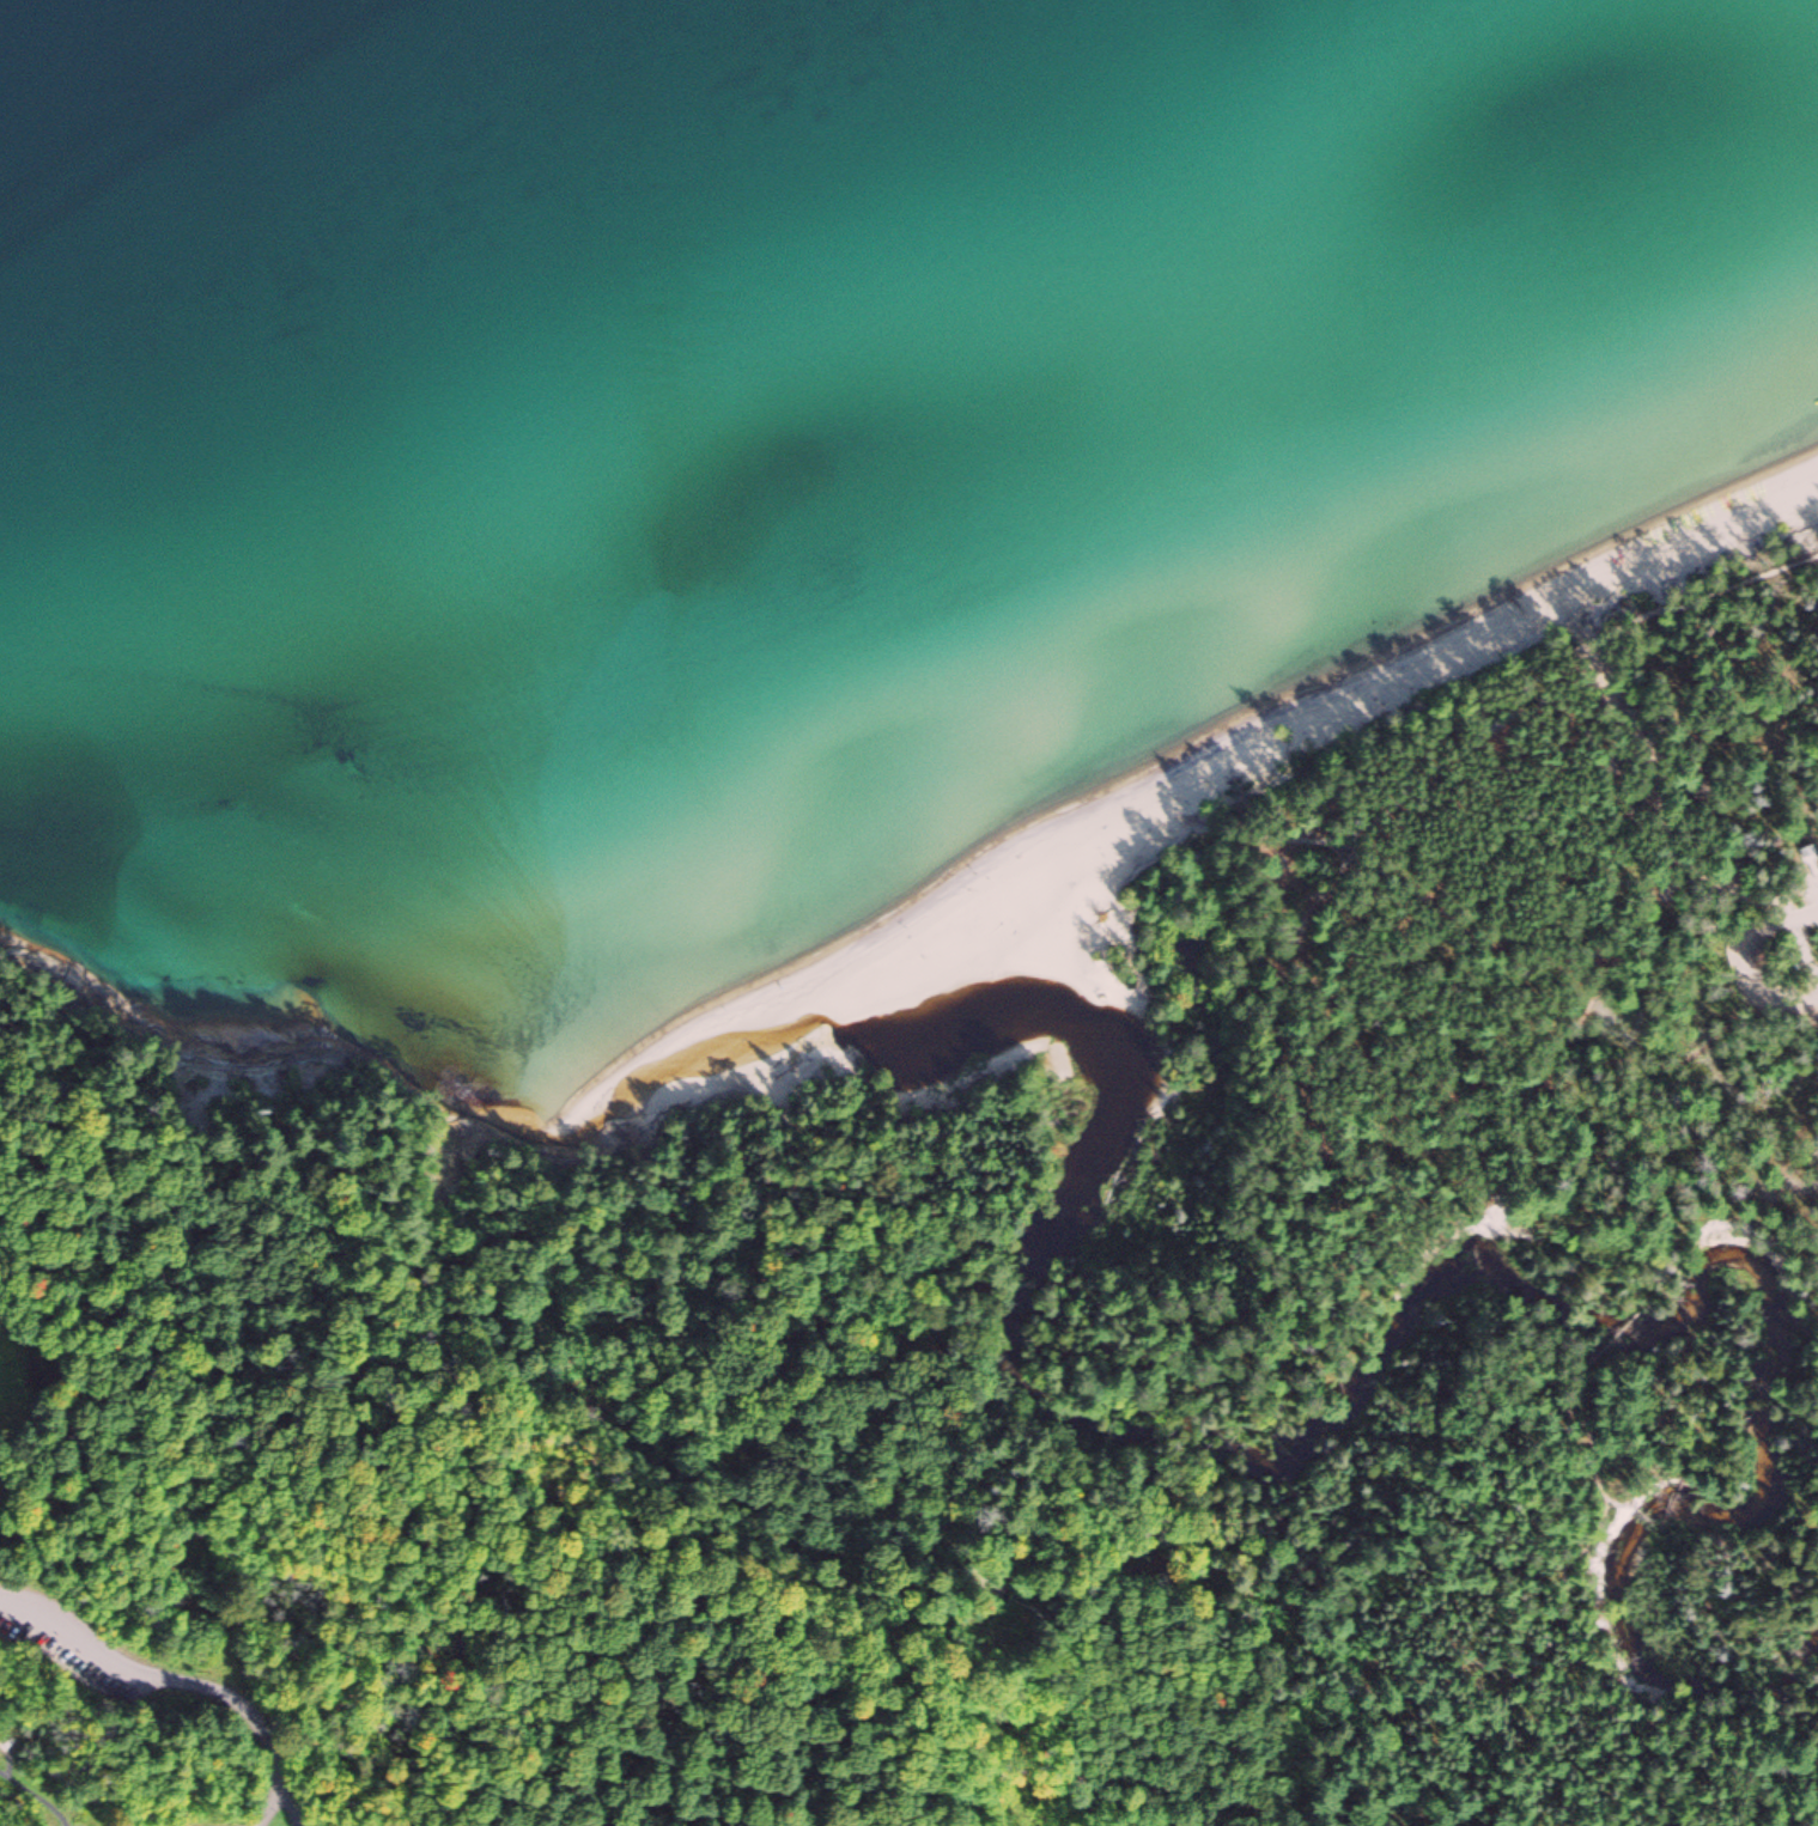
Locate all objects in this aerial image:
road: (1443, 769)
road: (1670, 817)
building: (1814, 859)
parking lot: (1813, 879)
road: (1733, 954)
parking lot: (1808, 1002)
road: (34, 1077)
road: (1557, 1078)
road: (25, 1155)
road: (56, 1256)
road: (1192, 1338)
river: (1270, 1473)
road: (1236, 1485)
road: (1593, 1493)
road: (503, 1517)
parking lot: (71, 1648)
road: (116, 1663)
building: (11, 1742)
road: (284, 1758)
road: (10, 1759)
road: (34, 1794)
road: (273, 1798)

